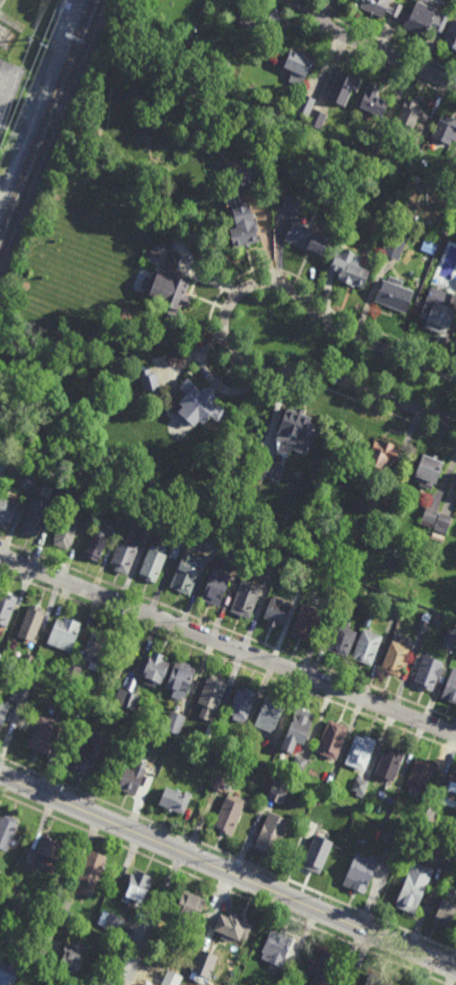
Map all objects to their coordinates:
building: (381, 7)
building: (262, 17)
building: (425, 17)
building: (3, 26)
building: (451, 35)
power tower: (45, 49)
road: (378, 49)
building: (298, 65)
building: (342, 87)
building: (373, 100)
building: (304, 106)
building: (412, 113)
railway: (46, 115)
building: (316, 118)
railway: (50, 127)
building: (445, 129)
building: (278, 135)
building: (374, 139)
building: (412, 154)
building: (448, 167)
building: (415, 180)
building: (291, 205)
building: (242, 211)
building: (306, 239)
building: (397, 241)
building: (428, 247)
building: (155, 255)
building: (172, 261)
building: (348, 269)
building: (169, 291)
building: (394, 295)
building: (441, 312)
road: (209, 319)
road: (223, 319)
building: (149, 380)
building: (198, 402)
building: (295, 430)
building: (380, 454)
building: (1, 468)
building: (266, 468)
building: (428, 468)
building: (28, 473)
building: (455, 490)
building: (60, 493)
building: (382, 500)
building: (6, 509)
building: (18, 514)
building: (35, 515)
building: (429, 516)
building: (442, 521)
building: (149, 527)
building: (66, 532)
building: (214, 538)
building: (96, 542)
building: (161, 554)
building: (124, 555)
building: (241, 558)
building: (304, 568)
building: (270, 572)
building: (185, 574)
building: (216, 583)
building: (331, 591)
building: (245, 597)
building: (344, 600)
building: (396, 606)
building: (6, 607)
building: (276, 611)
building: (31, 621)
building: (306, 622)
building: (422, 625)
road: (228, 631)
building: (64, 632)
building: (450, 636)
building: (342, 638)
road: (228, 643)
building: (367, 646)
building: (95, 649)
building: (396, 656)
road: (228, 660)
building: (26, 663)
building: (156, 669)
building: (34, 672)
building: (72, 672)
building: (429, 672)
building: (181, 678)
building: (450, 686)
building: (19, 694)
building: (211, 696)
building: (128, 700)
building: (72, 701)
building: (242, 703)
building: (68, 710)
building: (3, 711)
building: (269, 714)
building: (175, 722)
building: (298, 729)
building: (210, 730)
building: (44, 737)
building: (240, 739)
building: (333, 739)
building: (360, 751)
building: (87, 755)
building: (161, 760)
building: (389, 763)
building: (299, 765)
building: (264, 766)
building: (421, 773)
building: (132, 779)
building: (220, 781)
building: (323, 785)
building: (359, 786)
building: (450, 789)
building: (278, 792)
building: (175, 800)
building: (229, 814)
building: (386, 827)
building: (428, 828)
road: (85, 829)
building: (8, 832)
building: (272, 834)
building: (388, 834)
building: (397, 842)
building: (47, 852)
building: (317, 854)
road: (228, 856)
building: (448, 858)
road: (175, 868)
building: (0, 871)
road: (228, 872)
building: (360, 872)
building: (90, 873)
building: (137, 891)
building: (411, 892)
building: (63, 902)
building: (446, 911)
building: (193, 917)
road: (155, 919)
building: (112, 922)
building: (66, 924)
building: (233, 927)
road: (313, 928)
building: (46, 933)
building: (11, 937)
building: (110, 944)
building: (276, 949)
building: (72, 960)
building: (204, 964)
building: (290, 965)
building: (321, 968)
building: (9, 972)
building: (288, 977)
building: (376, 979)
building: (103, 983)

